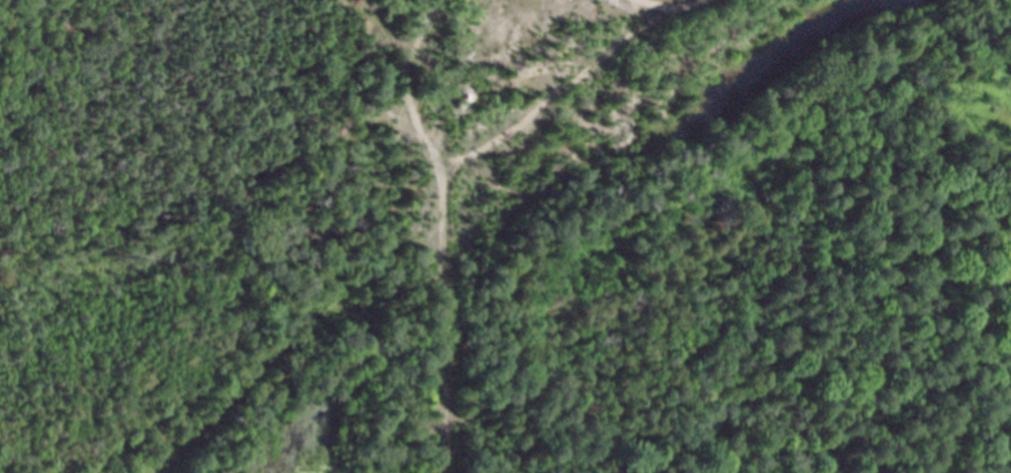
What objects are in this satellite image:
road: (444, 321)

